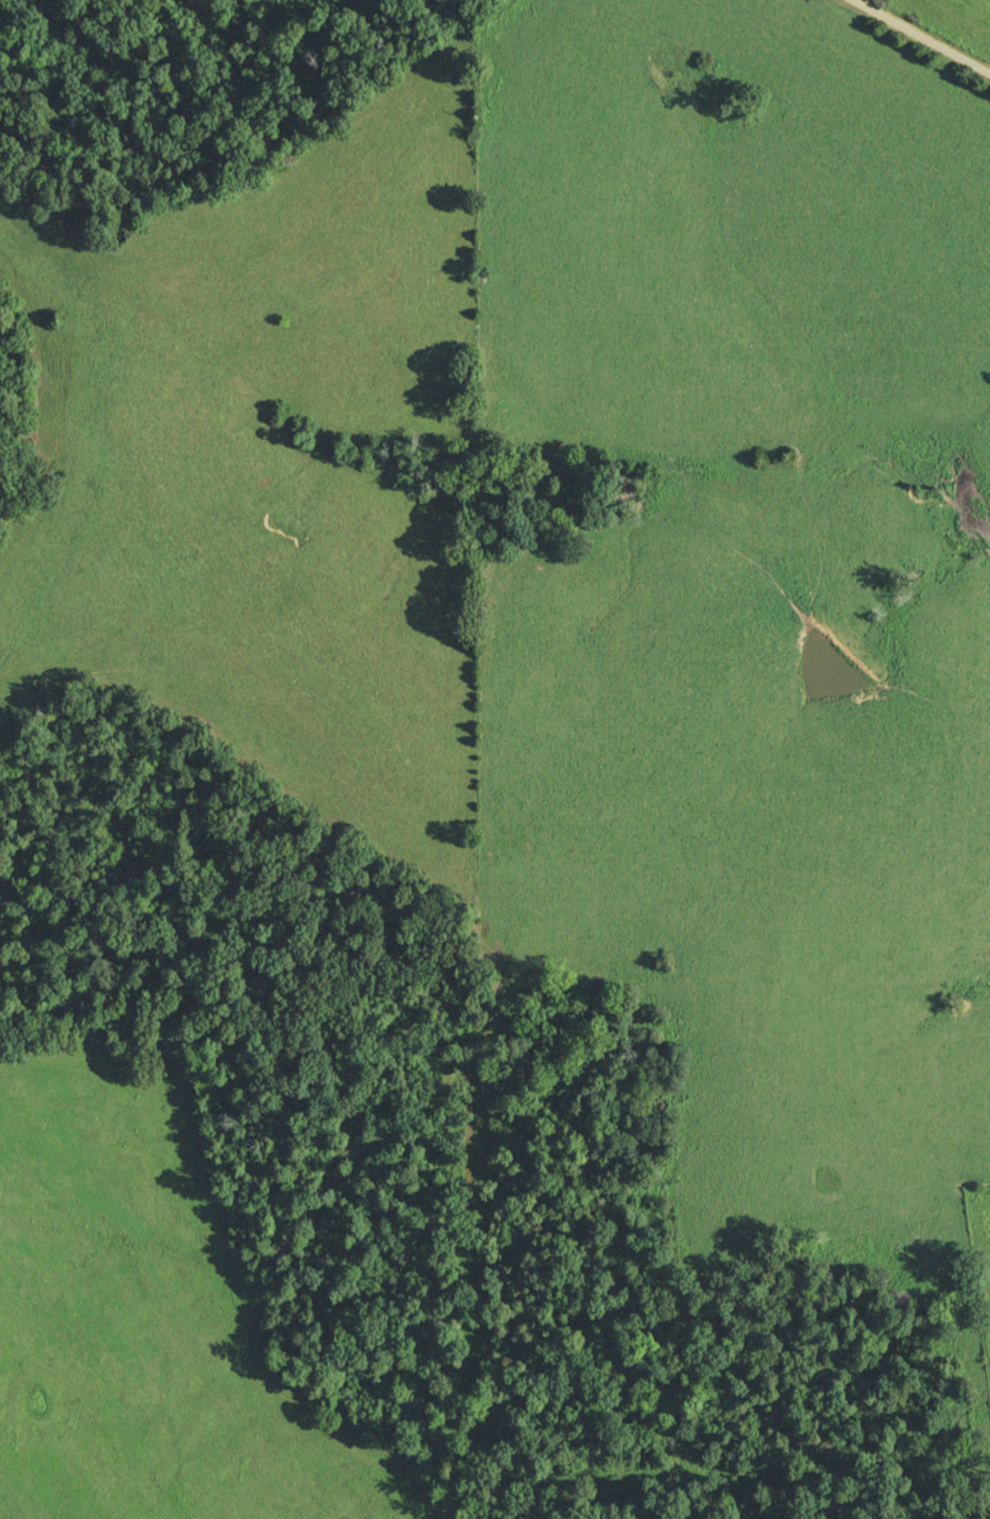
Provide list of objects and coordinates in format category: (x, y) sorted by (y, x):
road: (920, 38)

